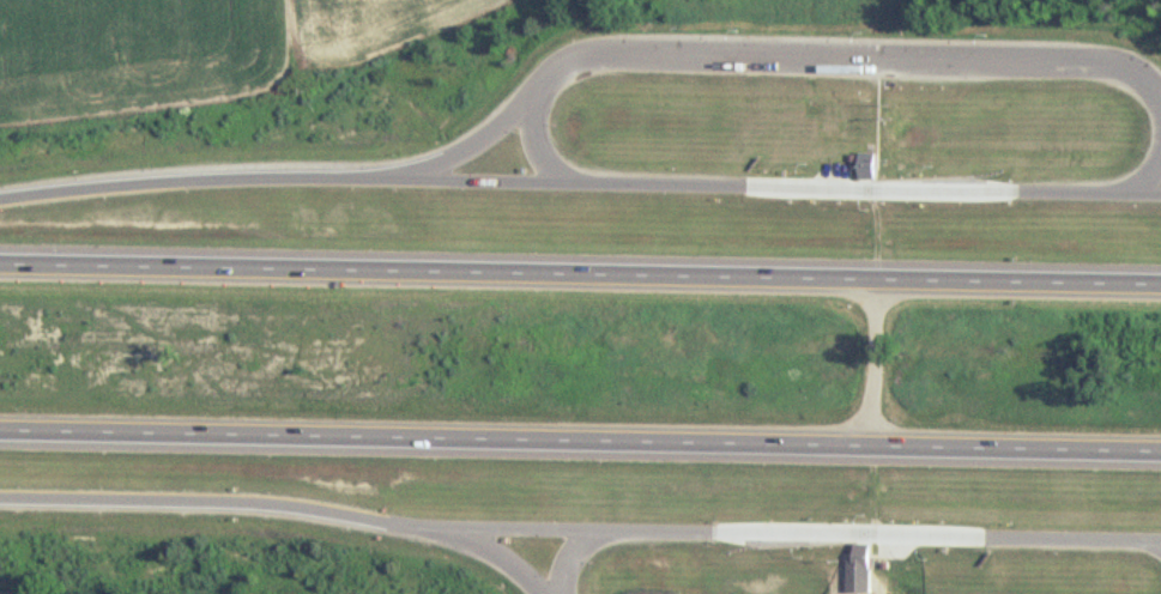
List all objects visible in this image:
road: (757, 49)
road: (544, 137)
building: (866, 165)
road: (1147, 168)
road: (191, 171)
road: (772, 183)
road: (580, 271)
road: (878, 359)
road: (580, 440)
road: (222, 501)
road: (799, 531)
road: (1160, 543)
road: (1160, 543)
road: (574, 554)
building: (861, 556)
road: (497, 557)

